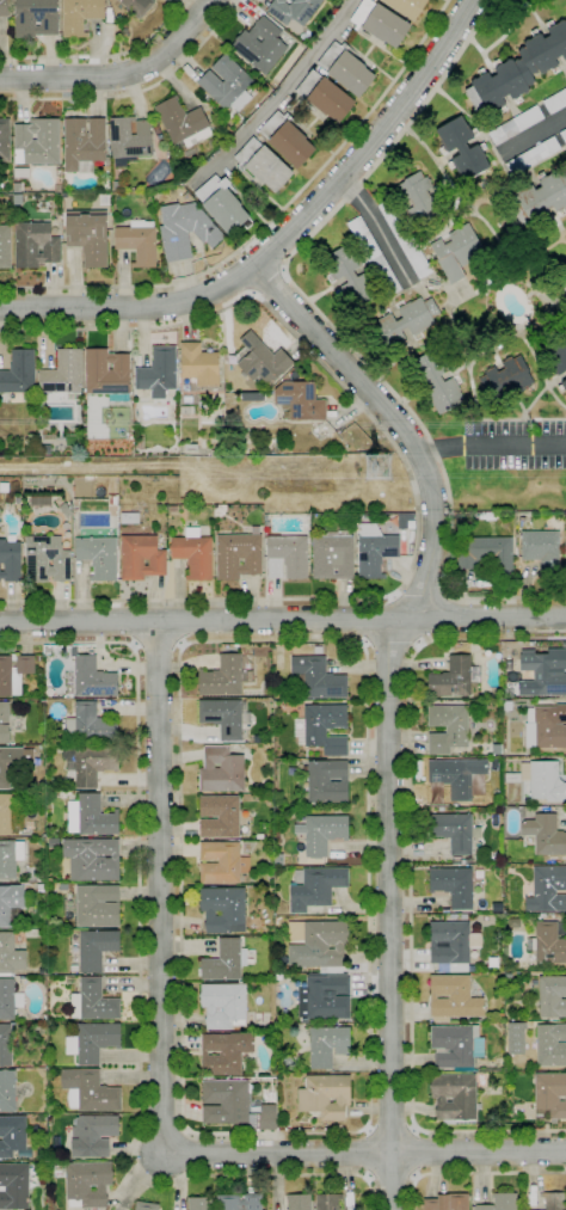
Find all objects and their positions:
building: (137, 6)
building: (407, 7)
building: (4, 8)
building: (294, 10)
building: (80, 16)
building: (35, 18)
building: (380, 22)
building: (350, 36)
building: (260, 45)
road: (101, 56)
building: (345, 68)
building: (518, 70)
road: (118, 74)
building: (227, 84)
road: (137, 91)
road: (279, 96)
building: (324, 96)
building: (555, 102)
building: (184, 124)
building: (516, 125)
building: (156, 129)
road: (534, 134)
building: (564, 135)
building: (287, 139)
building: (129, 140)
building: (5, 141)
building: (37, 141)
building: (85, 146)
building: (462, 148)
building: (533, 156)
building: (263, 165)
building: (116, 186)
building: (419, 198)
building: (539, 199)
building: (222, 204)
road: (267, 222)
road: (376, 227)
building: (185, 229)
building: (88, 235)
building: (405, 239)
road: (283, 240)
building: (137, 241)
building: (35, 245)
building: (5, 247)
building: (457, 252)
road: (266, 253)
building: (374, 256)
road: (245, 274)
building: (350, 276)
road: (270, 281)
building: (559, 288)
building: (406, 321)
road: (336, 330)
building: (558, 358)
building: (263, 360)
building: (198, 364)
building: (19, 373)
building: (158, 373)
building: (107, 374)
building: (63, 377)
building: (509, 379)
building: (437, 381)
building: (562, 386)
building: (299, 401)
building: (186, 410)
building: (79, 414)
parking lot: (513, 443)
road: (491, 446)
building: (191, 448)
building: (43, 449)
building: (216, 453)
power tower: (376, 472)
building: (43, 477)
road: (412, 486)
building: (49, 490)
building: (112, 500)
building: (172, 509)
building: (64, 510)
building: (129, 518)
building: (411, 524)
building: (374, 551)
building: (542, 551)
building: (193, 553)
building: (486, 554)
building: (97, 555)
building: (238, 555)
building: (287, 555)
building: (333, 555)
building: (141, 557)
building: (45, 559)
building: (10, 561)
road: (424, 592)
road: (443, 616)
road: (282, 619)
road: (123, 622)
road: (367, 622)
road: (178, 624)
road: (158, 646)
road: (389, 646)
building: (318, 650)
building: (39, 657)
building: (14, 672)
building: (543, 672)
building: (224, 676)
building: (92, 677)
building: (454, 677)
building: (318, 678)
road: (388, 701)
building: (223, 717)
building: (4, 723)
building: (90, 725)
building: (546, 726)
building: (322, 727)
building: (448, 729)
building: (14, 762)
building: (90, 763)
building: (221, 770)
building: (455, 779)
building: (327, 781)
building: (541, 781)
building: (301, 785)
building: (303, 806)
building: (441, 809)
building: (10, 815)
building: (91, 816)
building: (219, 816)
building: (453, 830)
building: (320, 833)
building: (545, 835)
building: (259, 836)
building: (53, 842)
building: (494, 856)
building: (10, 858)
building: (92, 859)
building: (278, 859)
building: (468, 860)
building: (221, 862)
building: (31, 879)
road: (161, 885)
building: (453, 885)
building: (315, 886)
road: (410, 886)
building: (39, 887)
building: (547, 889)
building: (11, 904)
building: (93, 905)
building: (223, 909)
building: (445, 910)
building: (517, 929)
building: (547, 944)
building: (320, 945)
building: (451, 945)
building: (97, 948)
building: (10, 956)
building: (224, 960)
building: (74, 968)
road: (140, 978)
building: (552, 996)
building: (453, 997)
building: (8, 999)
building: (324, 999)
building: (93, 1001)
building: (223, 1005)
building: (500, 1016)
building: (304, 1020)
building: (92, 1042)
building: (267, 1042)
building: (326, 1044)
building: (6, 1045)
building: (548, 1046)
building: (457, 1048)
building: (224, 1052)
building: (288, 1062)
building: (7, 1091)
building: (88, 1091)
building: (550, 1094)
building: (325, 1097)
building: (455, 1098)
building: (224, 1101)
building: (267, 1117)
road: (368, 1128)
road: (392, 1128)
building: (92, 1135)
building: (13, 1137)
road: (365, 1153)
road: (367, 1153)
road: (416, 1153)
road: (474, 1173)
road: (390, 1179)
building: (87, 1184)
building: (13, 1186)
building: (554, 1200)
building: (239, 1202)
building: (299, 1202)
building: (327, 1202)
building: (447, 1202)
building: (500, 1202)
building: (199, 1203)
building: (146, 1205)

